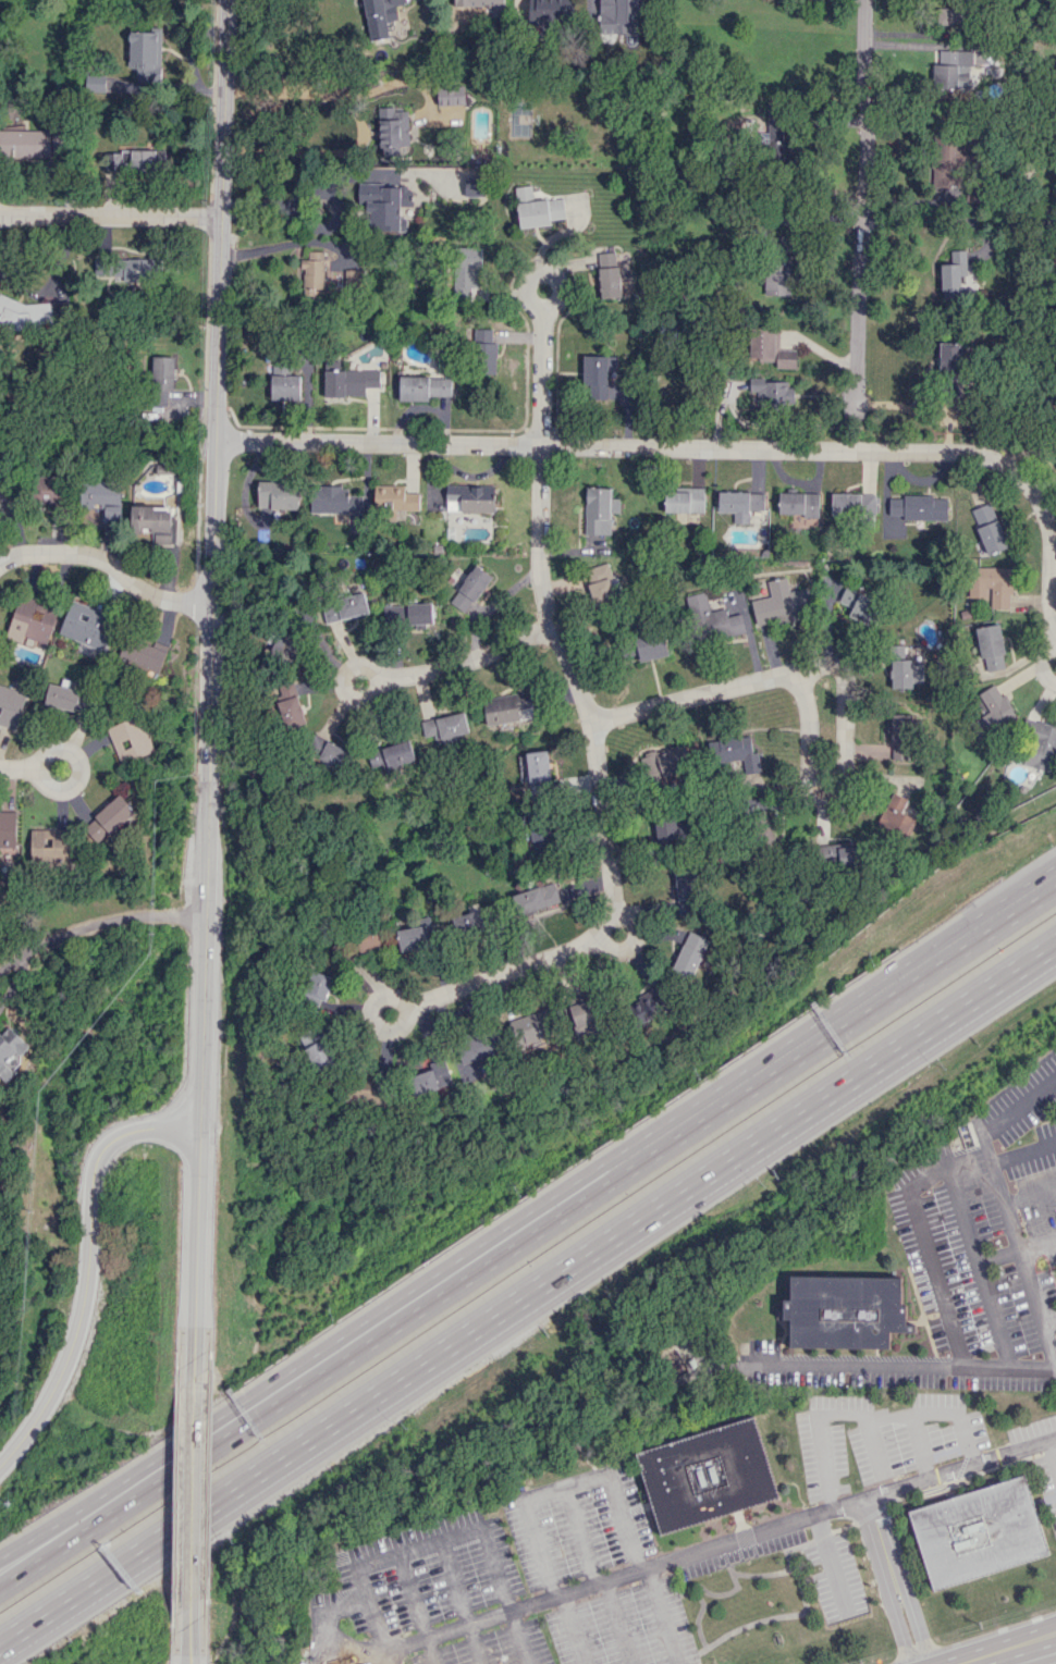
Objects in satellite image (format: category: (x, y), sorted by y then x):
building: (484, 4)
building: (547, 13)
building: (617, 15)
building: (380, 16)
building: (949, 21)
building: (953, 69)
building: (451, 96)
building: (393, 130)
building: (25, 144)
road: (299, 151)
building: (133, 161)
building: (384, 208)
building: (543, 208)
road: (110, 214)
road: (861, 215)
road: (945, 217)
building: (125, 269)
building: (314, 272)
building: (470, 273)
building: (607, 274)
building: (776, 279)
building: (956, 279)
building: (347, 281)
building: (21, 315)
road: (540, 321)
building: (769, 347)
building: (484, 352)
building: (949, 369)
building: (597, 375)
building: (161, 379)
building: (283, 382)
building: (349, 382)
building: (423, 387)
building: (773, 392)
road: (857, 442)
road: (703, 448)
building: (162, 468)
building: (51, 490)
building: (278, 495)
building: (101, 498)
building: (469, 498)
building: (394, 500)
building: (684, 500)
building: (5, 501)
building: (334, 501)
building: (739, 504)
building: (798, 504)
building: (854, 504)
building: (918, 507)
building: (599, 510)
building: (151, 523)
building: (989, 528)
road: (108, 567)
building: (602, 583)
building: (990, 584)
building: (469, 589)
building: (781, 603)
building: (859, 605)
building: (344, 607)
building: (720, 613)
building: (414, 614)
building: (33, 618)
building: (86, 625)
building: (648, 645)
building: (280, 646)
building: (991, 648)
building: (143, 653)
road: (1043, 660)
road: (413, 671)
building: (906, 674)
road: (210, 688)
building: (61, 697)
building: (83, 702)
building: (288, 705)
building: (10, 706)
building: (507, 708)
building: (993, 712)
road: (808, 725)
building: (444, 728)
building: (900, 737)
building: (130, 739)
building: (1041, 747)
building: (328, 752)
building: (391, 755)
building: (665, 761)
road: (17, 768)
building: (538, 771)
road: (77, 772)
road: (599, 791)
building: (896, 814)
building: (108, 819)
building: (8, 829)
building: (670, 831)
building: (50, 845)
building: (842, 854)
building: (685, 891)
building: (535, 899)
building: (467, 920)
road: (96, 925)
building: (414, 938)
building: (369, 939)
road: (630, 942)
building: (689, 954)
road: (14, 984)
building: (319, 988)
road: (383, 996)
building: (647, 1004)
building: (581, 1019)
building: (531, 1026)
building: (471, 1047)
building: (10, 1051)
building: (322, 1056)
building: (430, 1077)
building: (365, 1090)
road: (1018, 1106)
road: (654, 1148)
road: (1023, 1155)
road: (940, 1166)
road: (1030, 1197)
parking lot: (904, 1229)
road: (1037, 1244)
road: (1019, 1250)
road: (998, 1257)
road: (87, 1269)
parking lot: (923, 1291)
road: (527, 1292)
building: (844, 1310)
road: (1047, 1323)
parking lot: (936, 1334)
parking lot: (762, 1346)
road: (900, 1365)
parking lot: (896, 1380)
parking lot: (998, 1382)
road: (863, 1415)
road: (872, 1444)
road: (918, 1446)
road: (1052, 1452)
road: (961, 1466)
building: (709, 1475)
road: (581, 1481)
road: (125, 1486)
road: (193, 1491)
road: (126, 1501)
building: (980, 1533)
road: (581, 1536)
road: (440, 1539)
road: (881, 1542)
road: (830, 1563)
parking lot: (597, 1570)
road: (628, 1576)
parking lot: (429, 1599)
road: (462, 1601)
road: (418, 1607)
road: (916, 1623)
road: (618, 1624)
road: (898, 1627)
road: (329, 1630)
road: (1051, 1634)
road: (189, 1635)
road: (1051, 1637)
road: (1002, 1650)
building: (303, 1663)
building: (306, 1663)

